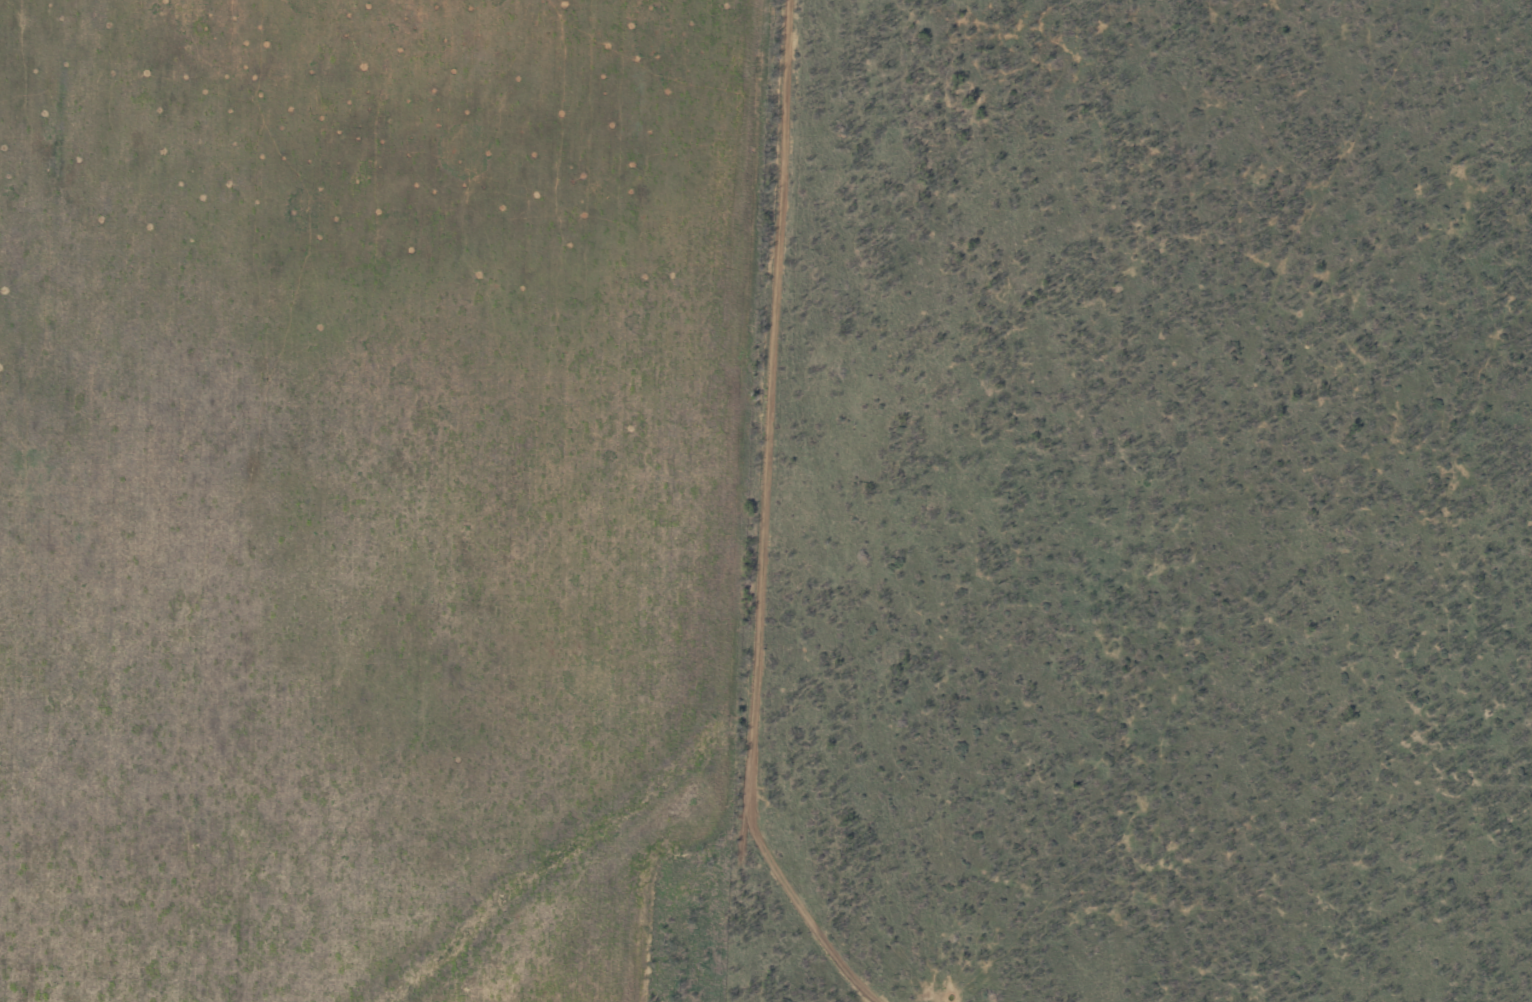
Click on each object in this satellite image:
road: (762, 510)

